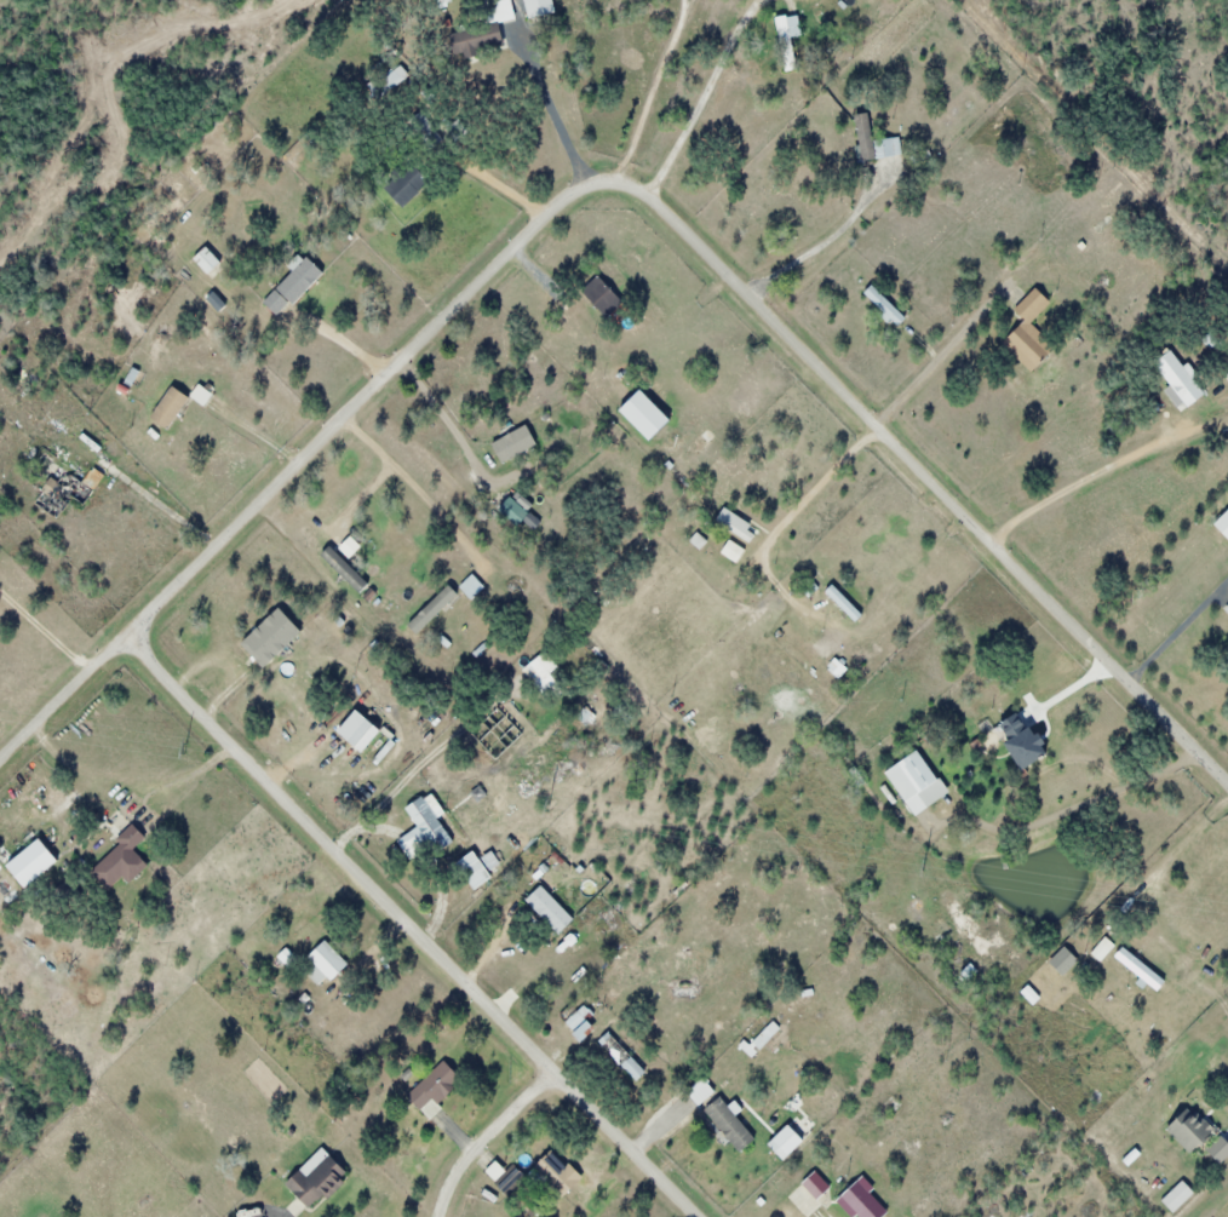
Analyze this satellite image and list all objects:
building: (483, 33)
building: (787, 41)
building: (868, 140)
building: (408, 183)
building: (208, 260)
building: (293, 287)
building: (606, 295)
building: (880, 304)
building: (1027, 340)
road: (386, 375)
building: (1175, 377)
building: (177, 404)
building: (515, 443)
building: (63, 494)
building: (1221, 523)
building: (739, 524)
building: (472, 586)
building: (845, 603)
building: (432, 608)
building: (1226, 610)
building: (274, 637)
building: (546, 677)
road: (69, 691)
power tower: (185, 748)
building: (918, 782)
power tower: (547, 804)
building: (444, 822)
building: (121, 860)
power tower: (925, 865)
building: (551, 908)
building: (1065, 960)
building: (328, 964)
building: (1142, 969)
building: (579, 1022)
building: (622, 1056)
building: (437, 1087)
building: (723, 1123)
building: (1184, 1127)
road: (486, 1137)
building: (1210, 1154)
building: (558, 1173)
building: (321, 1179)
building: (810, 1183)
building: (817, 1211)
building: (1028, 1216)

